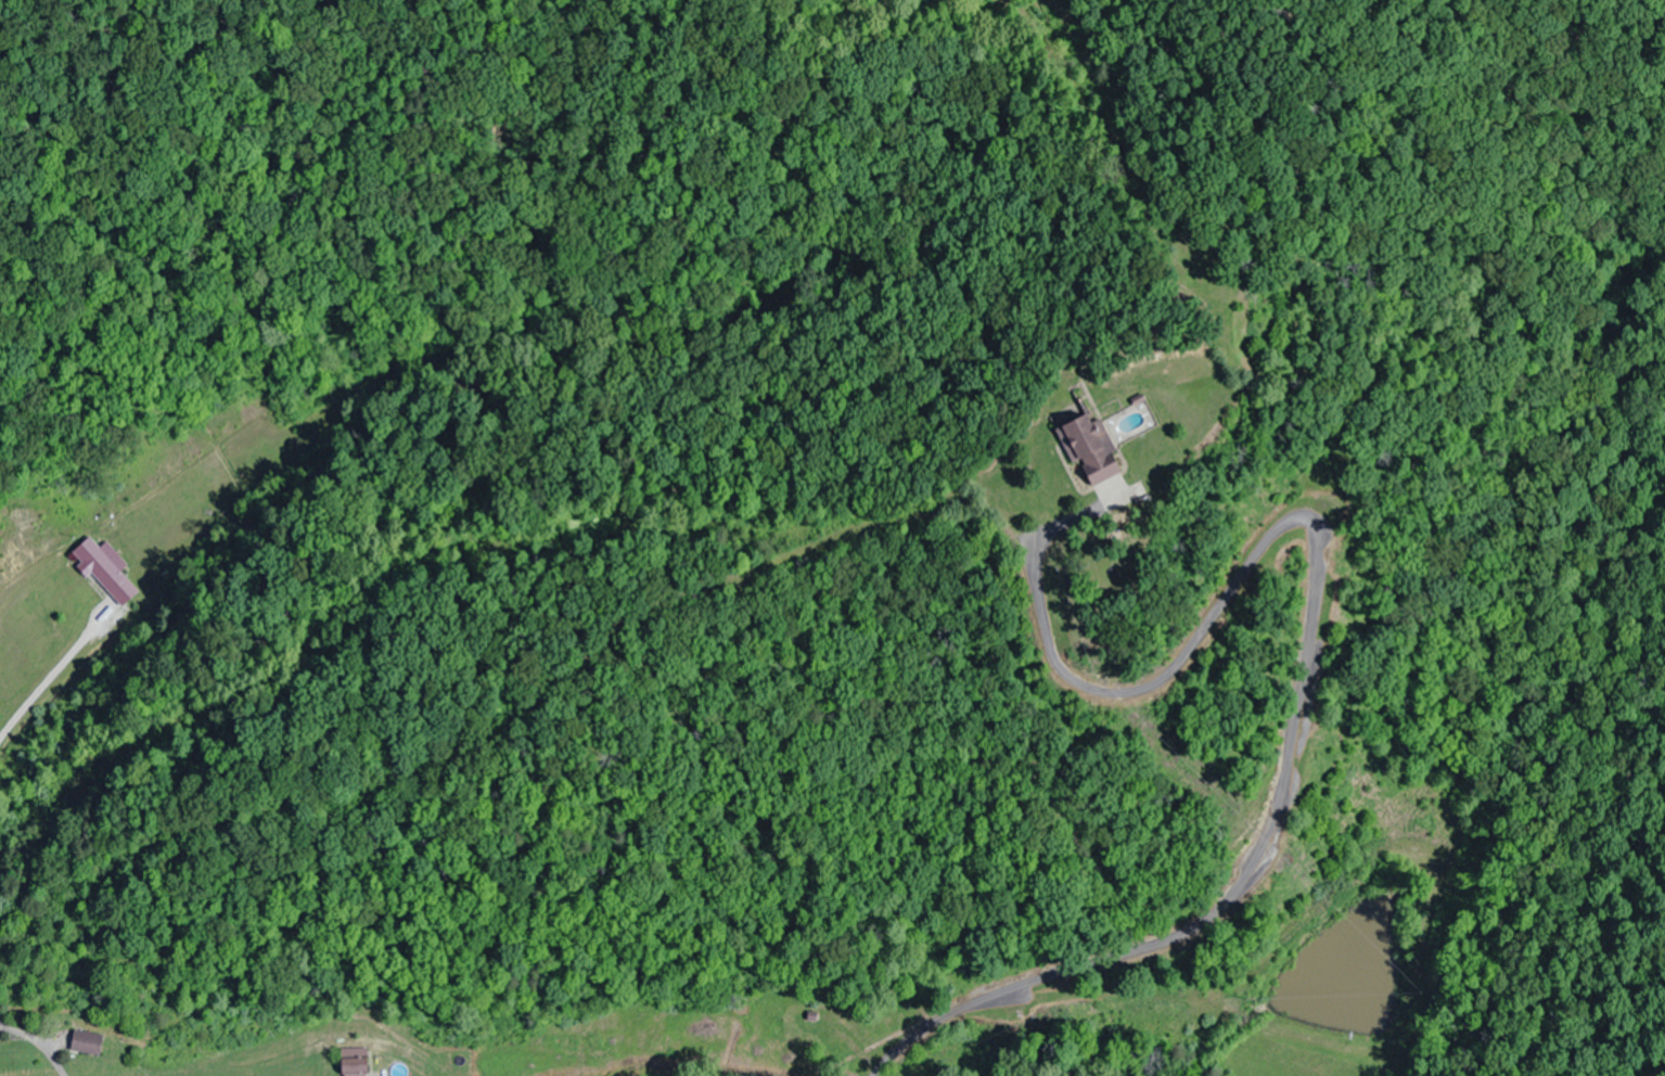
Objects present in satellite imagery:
building: (1088, 449)
building: (103, 571)
building: (86, 1042)
building: (354, 1066)

